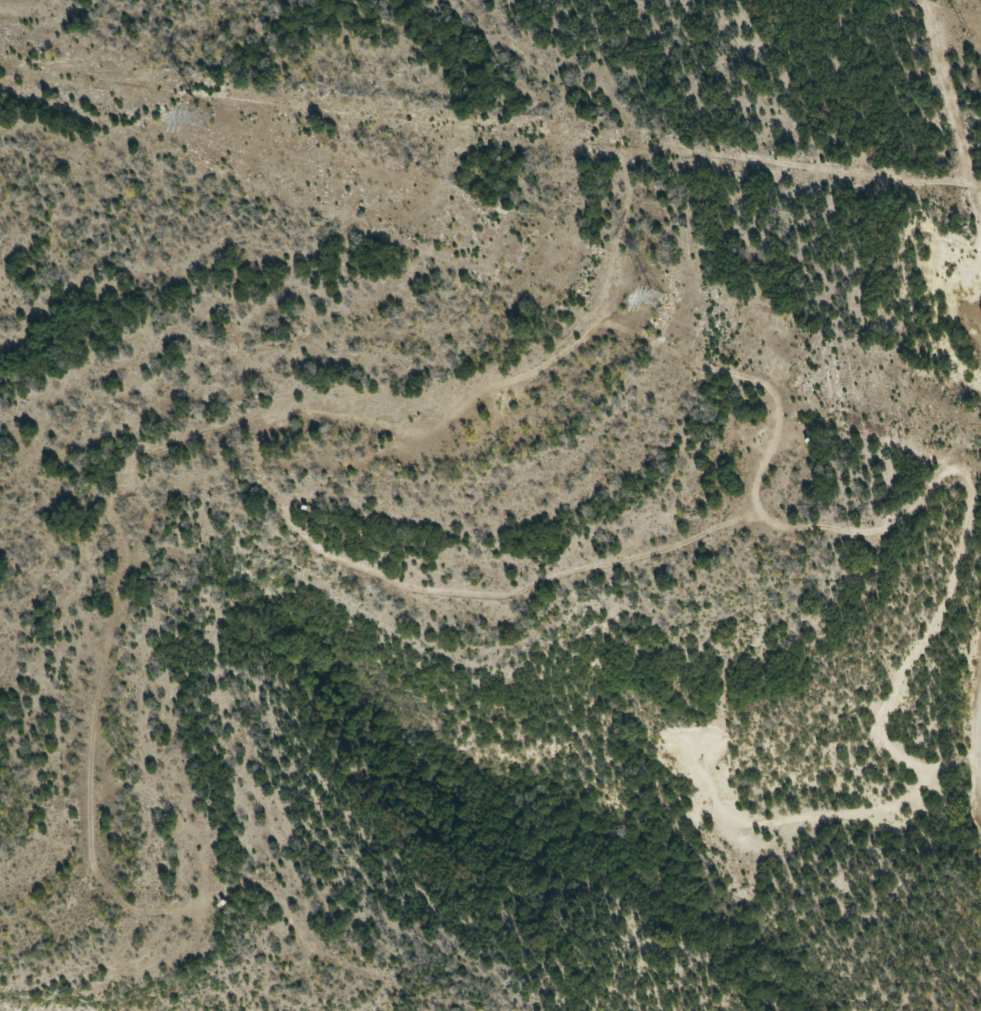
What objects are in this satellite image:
power tower: (203, 122)
power tower: (658, 301)

